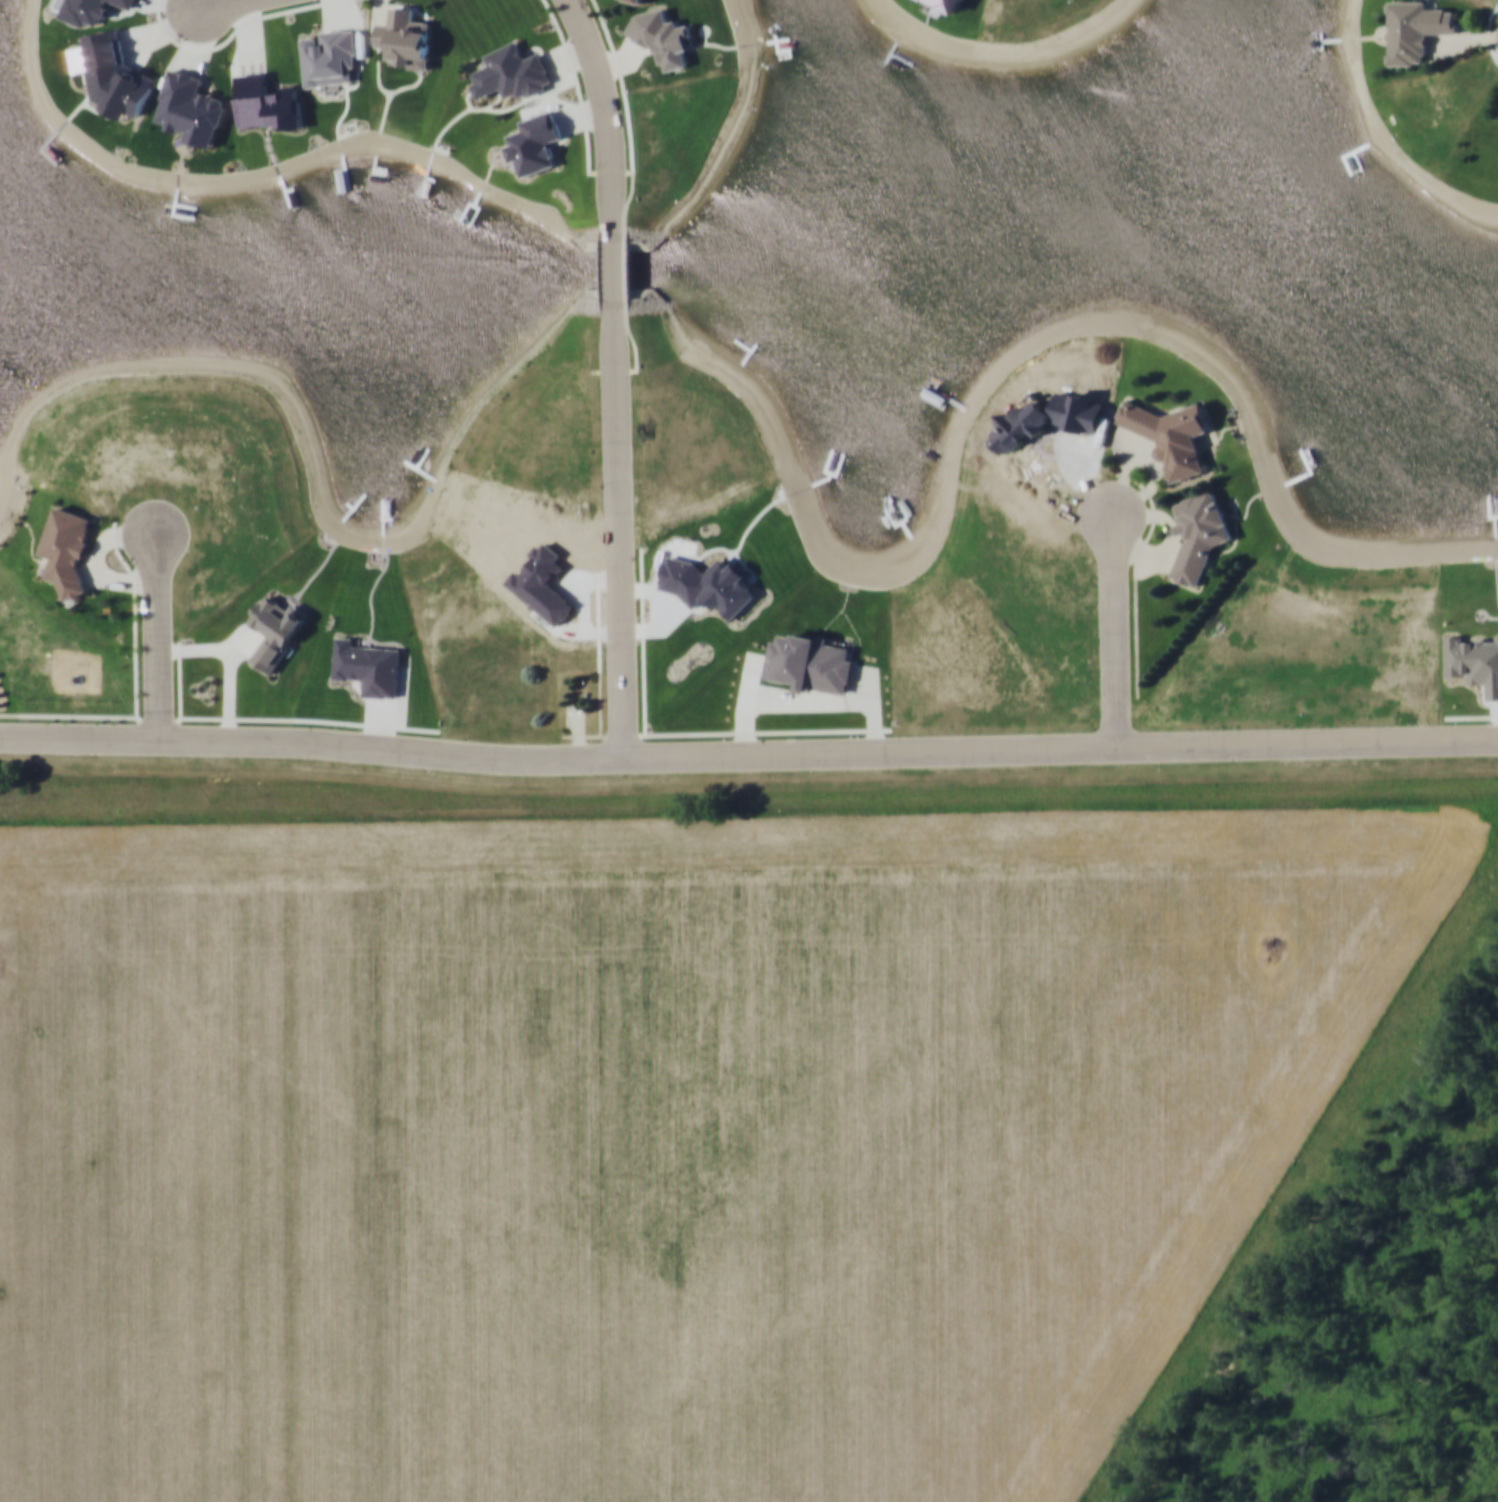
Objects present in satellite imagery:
building: (642, 0)
road: (215, 4)
building: (1416, 29)
building: (406, 38)
road: (605, 116)
road: (613, 269)
building: (1171, 434)
road: (617, 530)
building: (1199, 533)
building: (67, 545)
road: (1114, 632)
road: (154, 640)
road: (748, 756)

